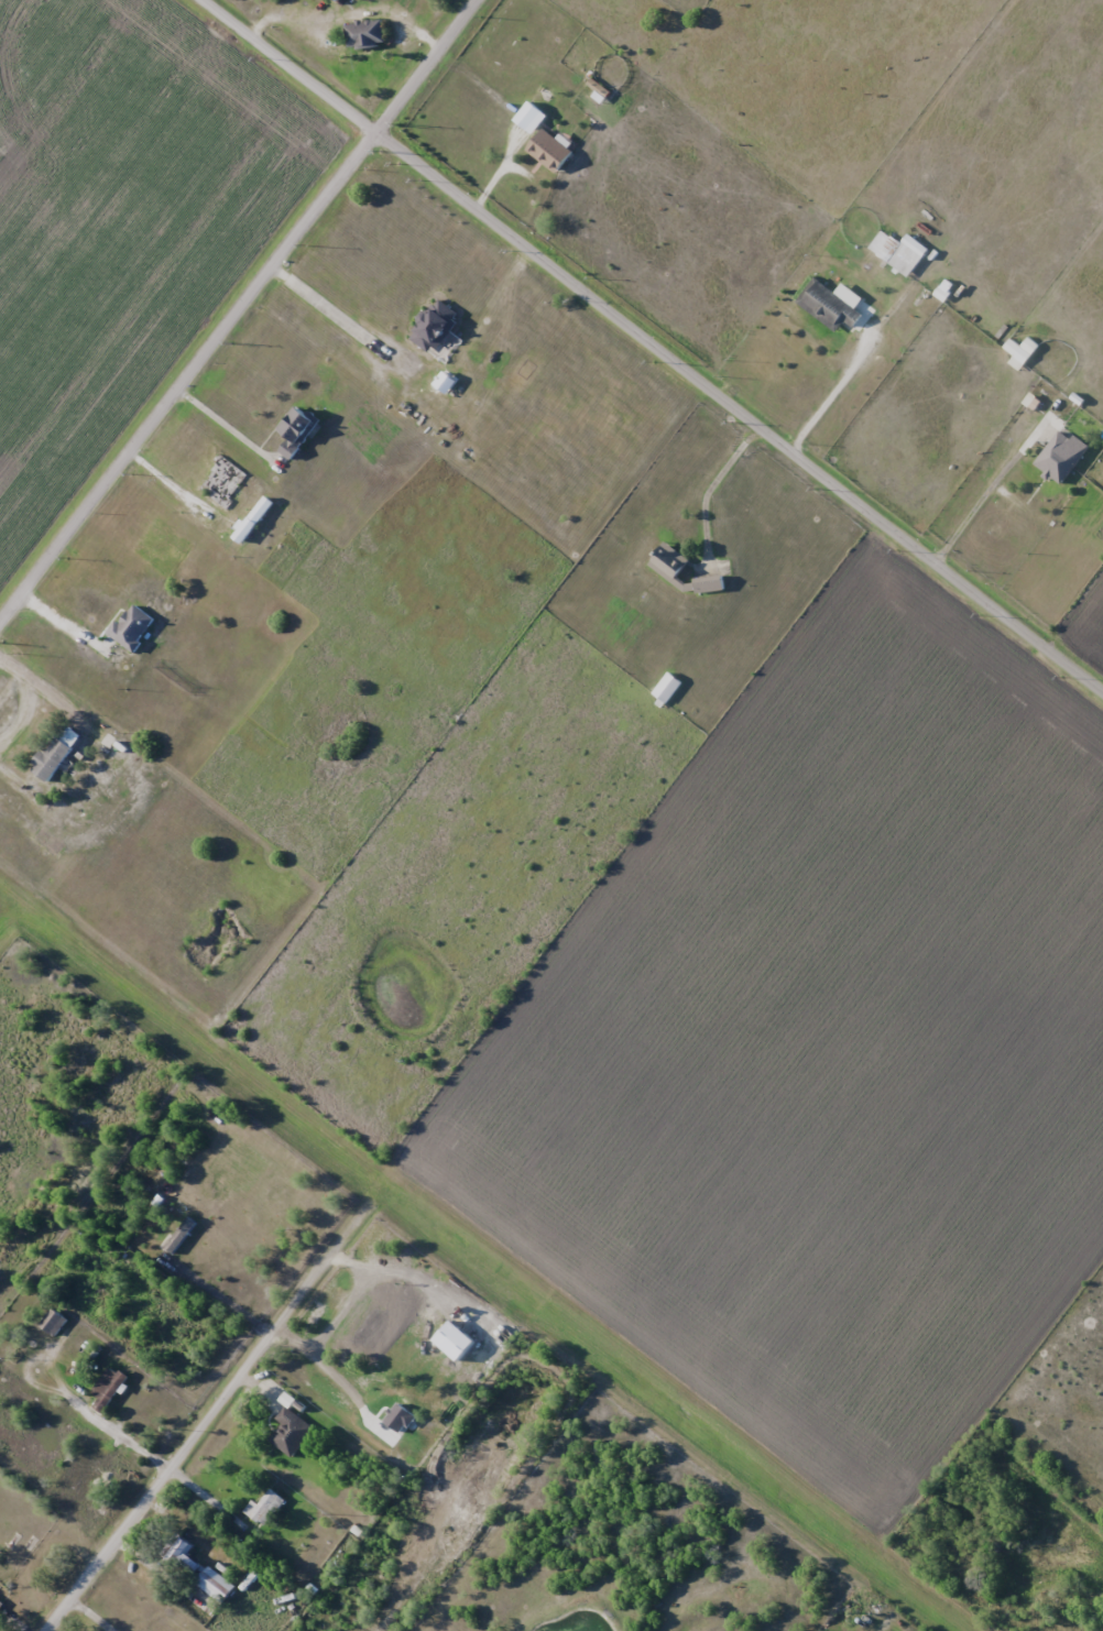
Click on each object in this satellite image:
building: (365, 34)
building: (537, 96)
building: (549, 151)
building: (904, 254)
building: (829, 306)
road: (236, 309)
road: (337, 314)
building: (434, 326)
road: (660, 340)
building: (1022, 350)
road: (219, 419)
building: (296, 430)
building: (1061, 456)
building: (669, 570)
building: (132, 627)
building: (666, 687)
building: (56, 752)
crop: (828, 1050)
building: (183, 1238)
road: (216, 1295)
building: (55, 1324)
building: (110, 1384)
building: (267, 1387)
building: (291, 1402)
road: (200, 1430)
building: (293, 1434)
building: (413, 1452)
road: (175, 1474)
building: (266, 1509)
building: (186, 1550)
building: (221, 1583)
building: (1, 1607)

